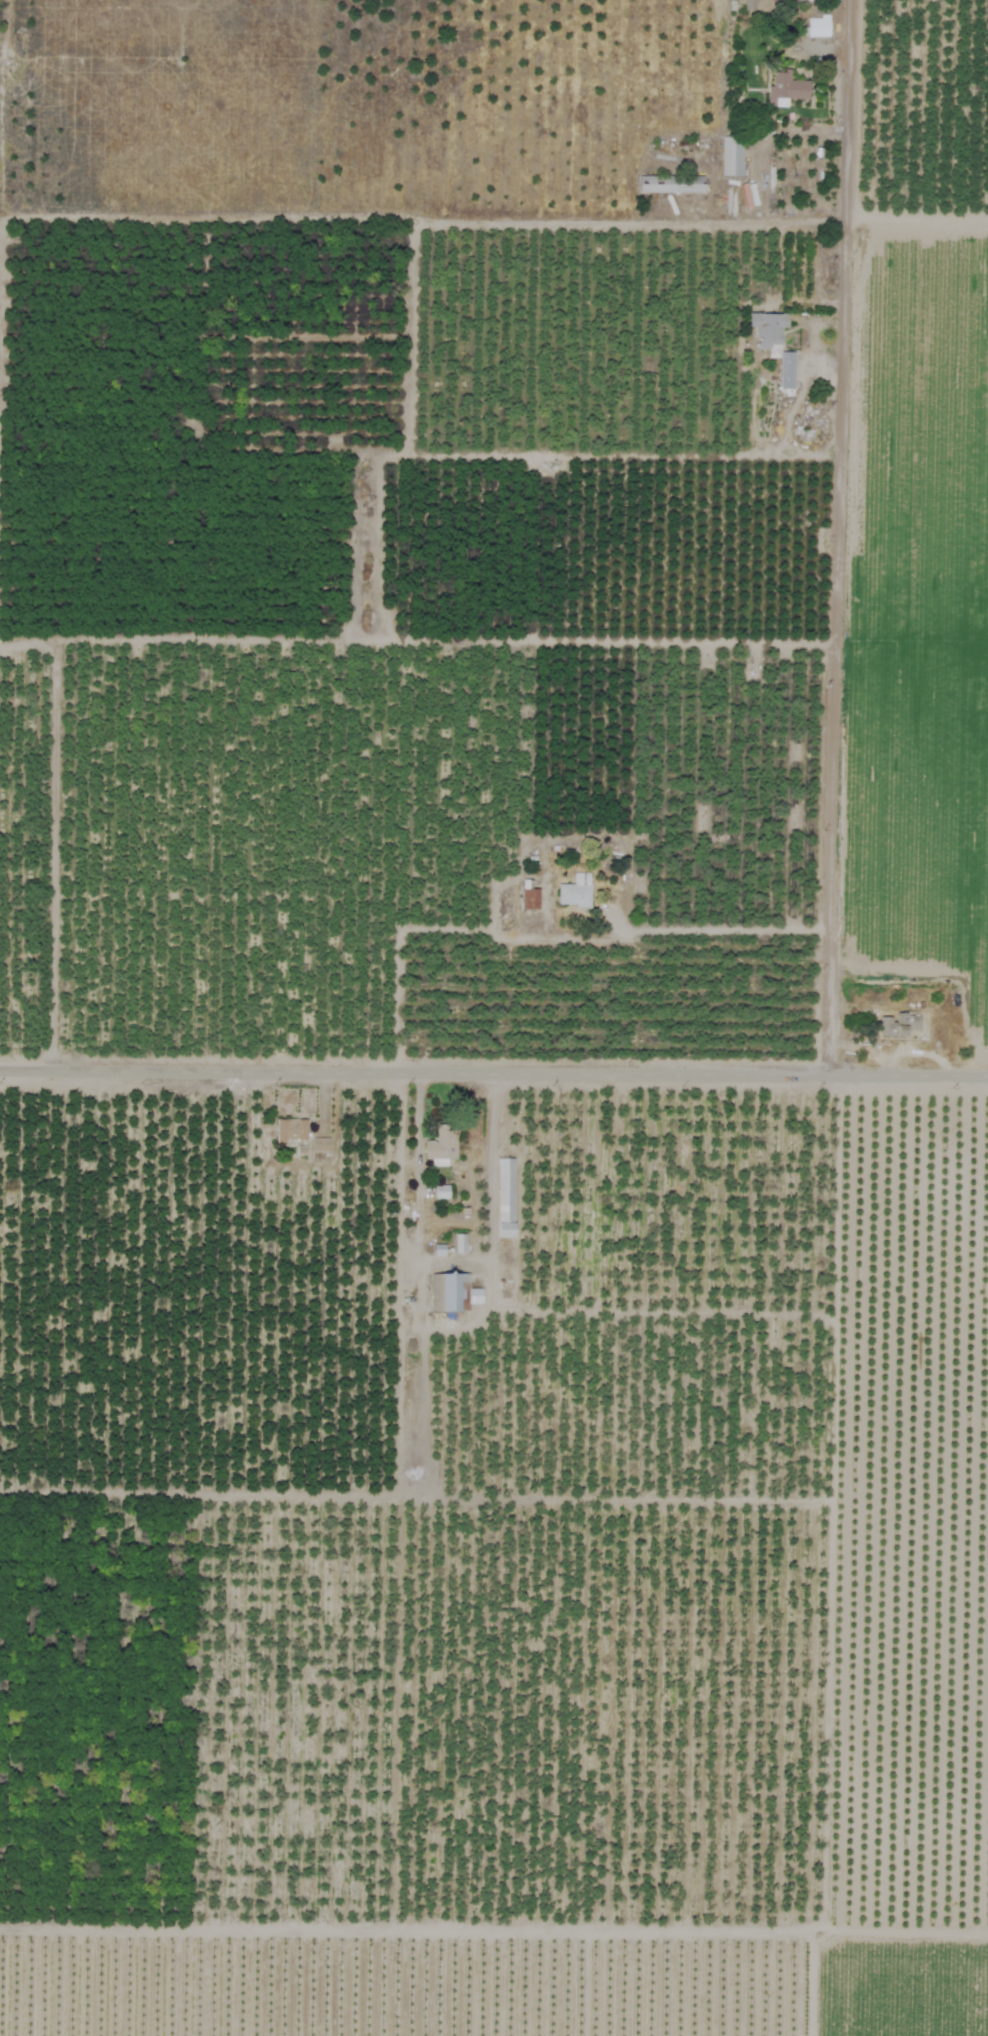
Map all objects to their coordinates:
building: (749, 4)
building: (817, 27)
building: (786, 87)
building: (731, 156)
building: (670, 185)
building: (767, 328)
building: (786, 370)
road: (837, 535)
building: (575, 891)
building: (530, 899)
road: (544, 933)
crop: (494, 1018)
building: (898, 1025)
road: (493, 1069)
building: (290, 1130)
building: (320, 1144)
building: (441, 1145)
road: (491, 1168)
road: (418, 1186)
building: (441, 1191)
building: (505, 1198)
building: (453, 1292)

